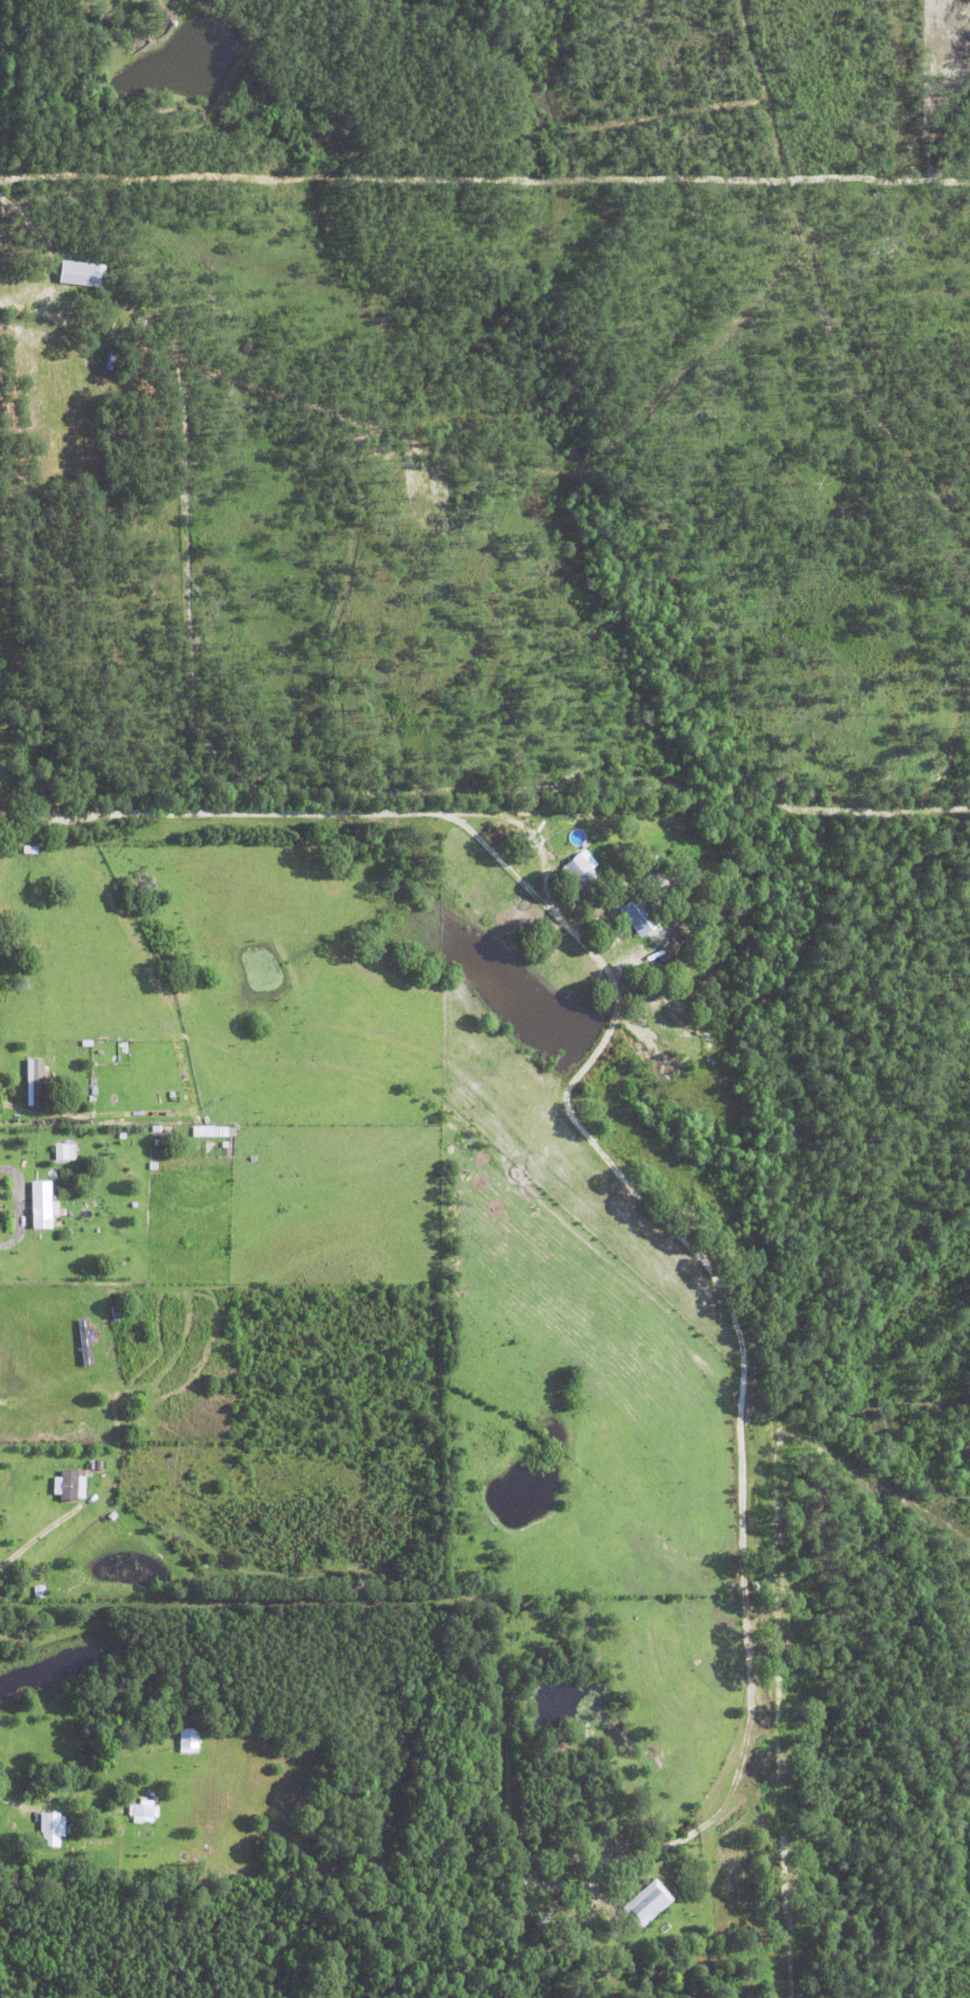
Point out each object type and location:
building: (82, 272)
building: (580, 870)
building: (35, 1080)
building: (212, 1129)
building: (65, 1150)
building: (43, 1202)
building: (71, 1484)
building: (189, 1738)
building: (143, 1809)
building: (53, 1827)
building: (649, 1901)

